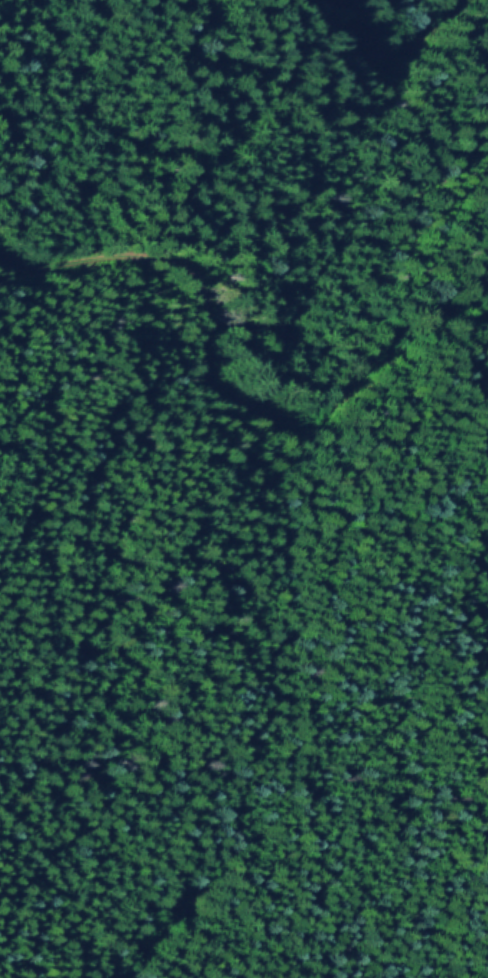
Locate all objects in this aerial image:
road: (398, 55)
road: (224, 381)

